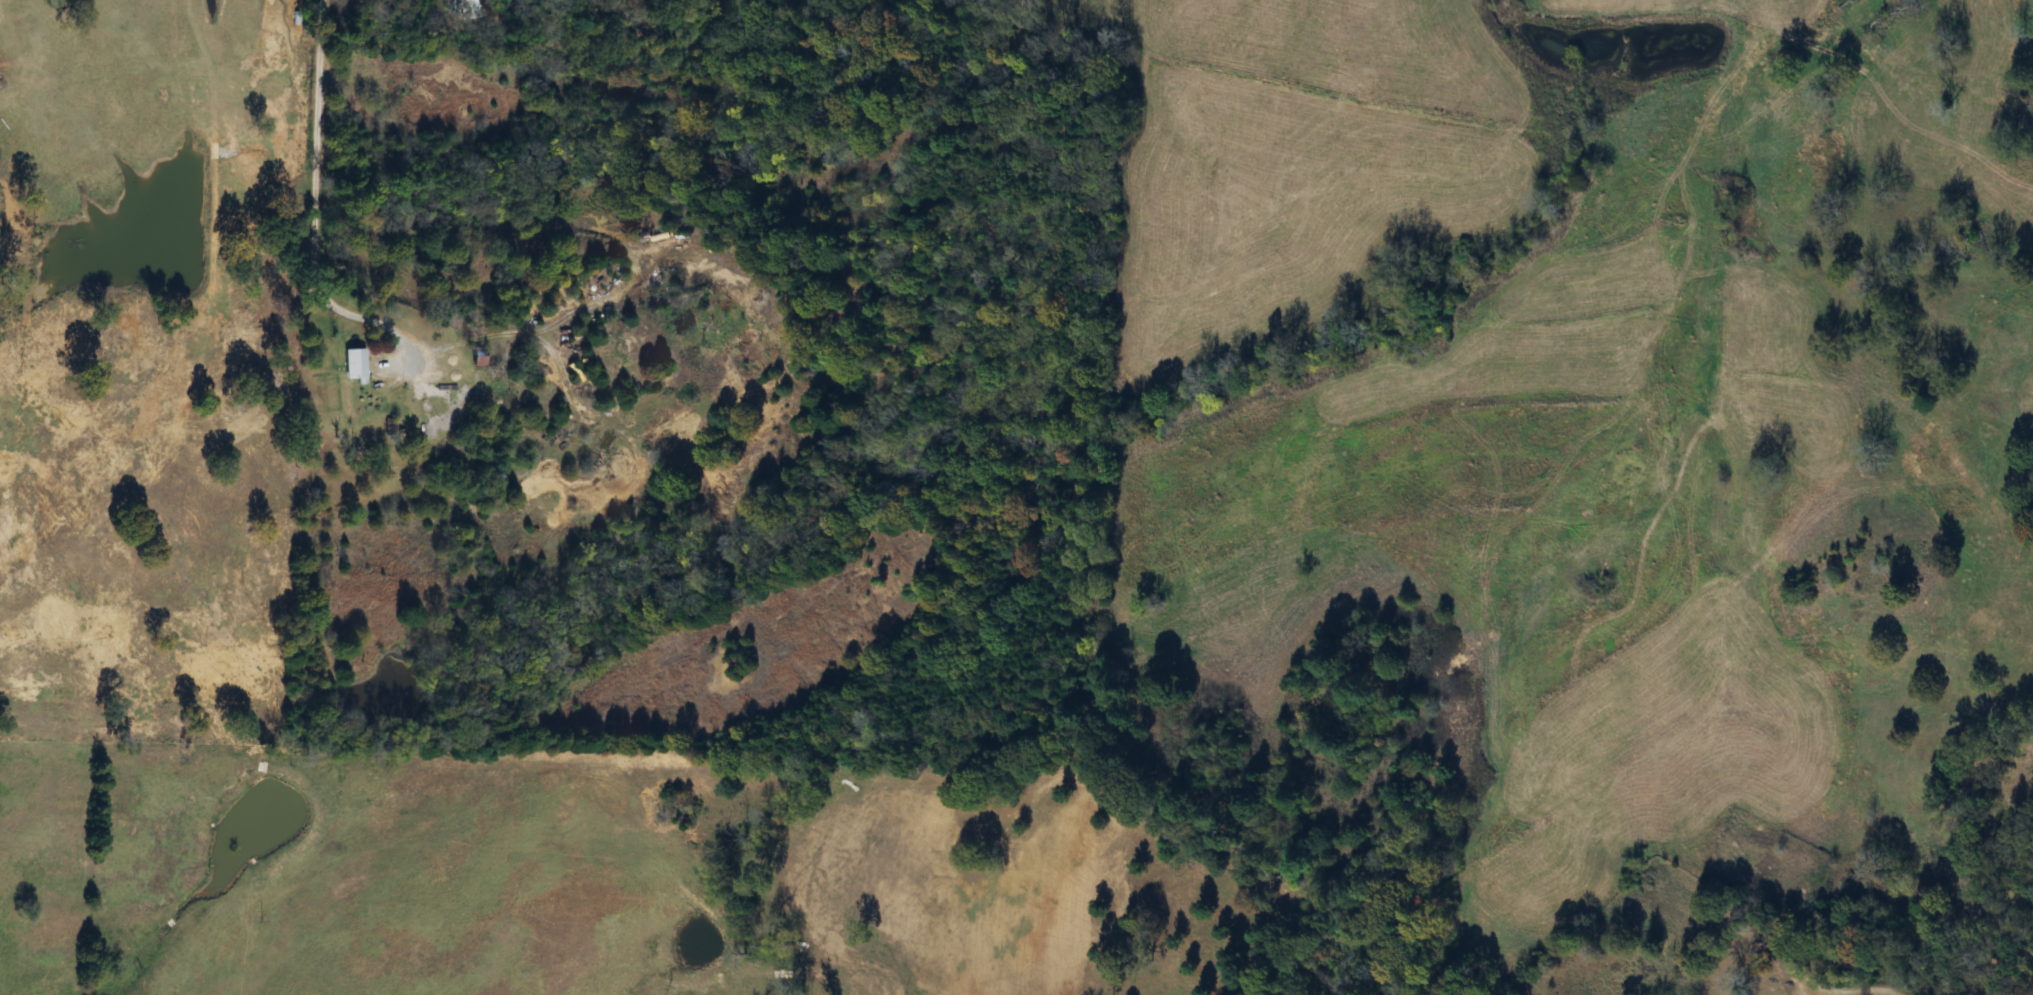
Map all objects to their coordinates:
building: (466, 10)
road: (317, 210)
building: (475, 356)
building: (353, 365)

